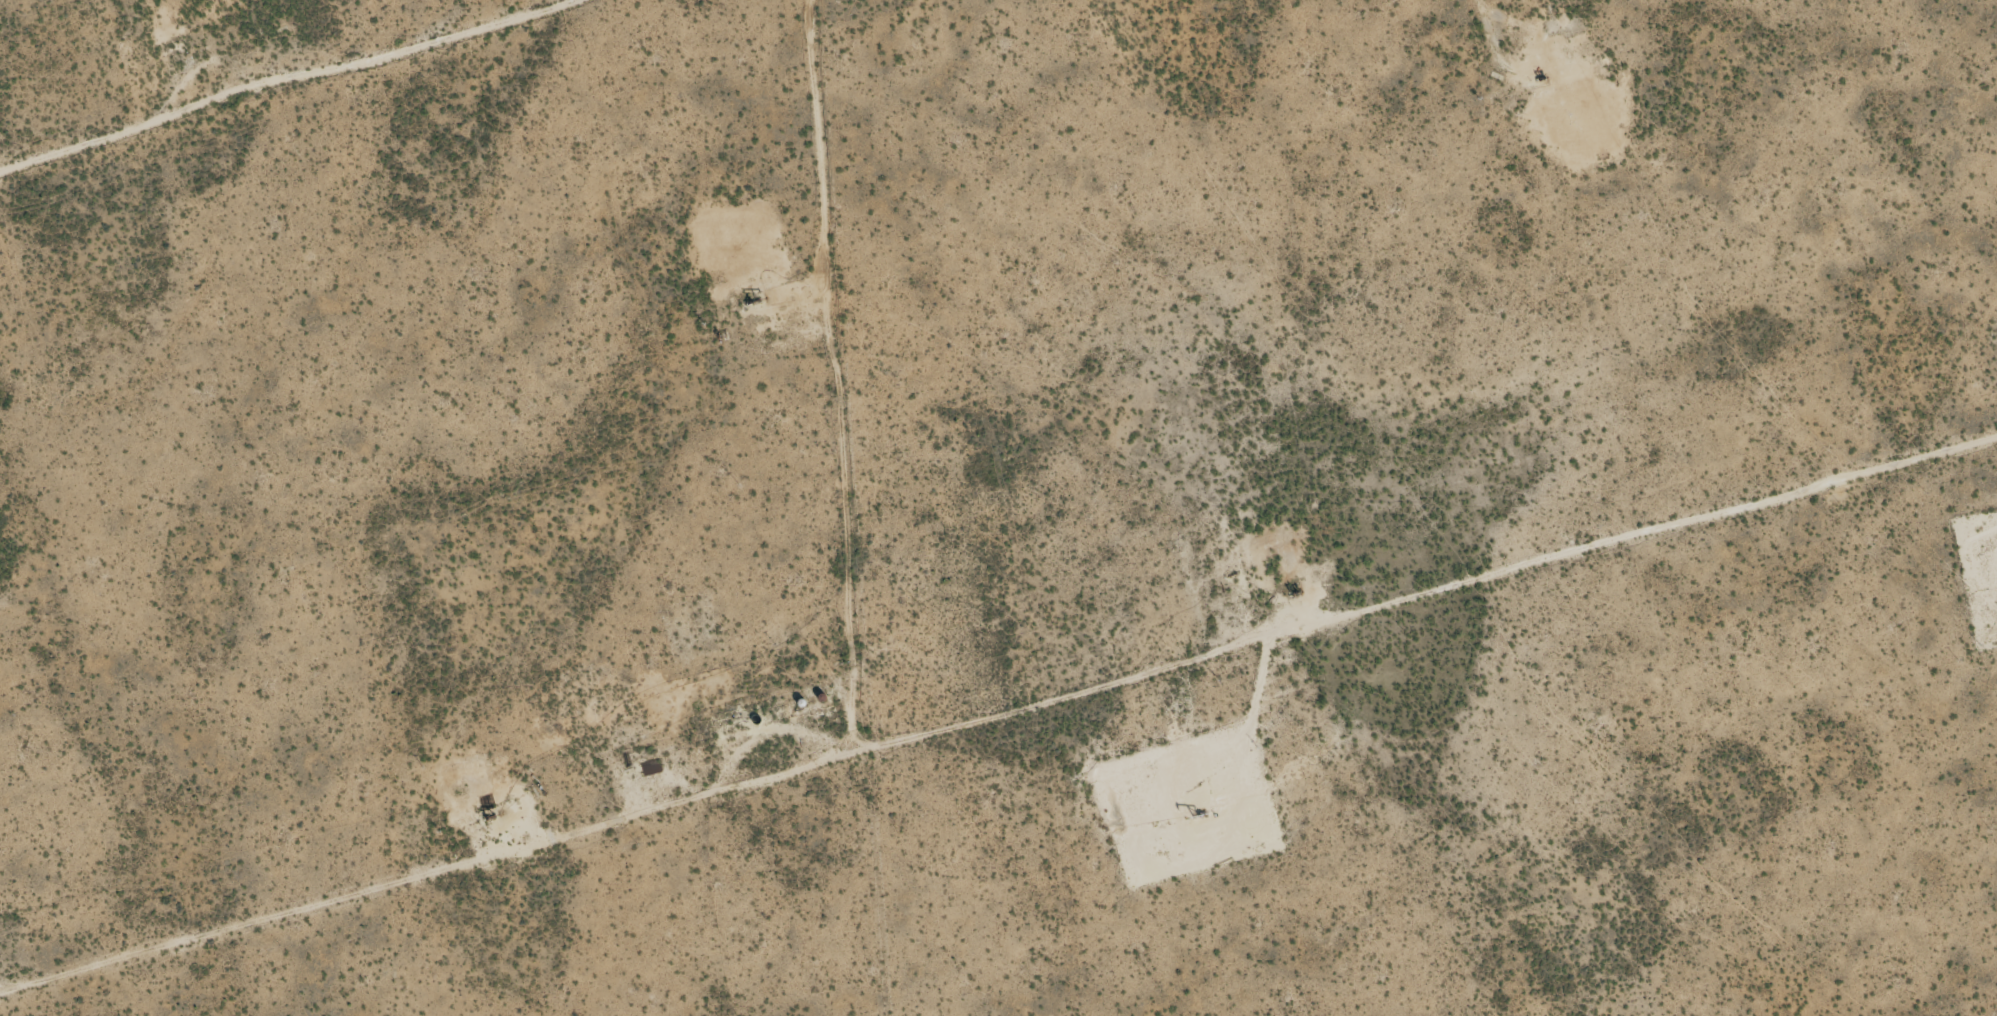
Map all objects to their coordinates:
road: (408, 118)
road: (1066, 756)
petroleum well: (1196, 814)

